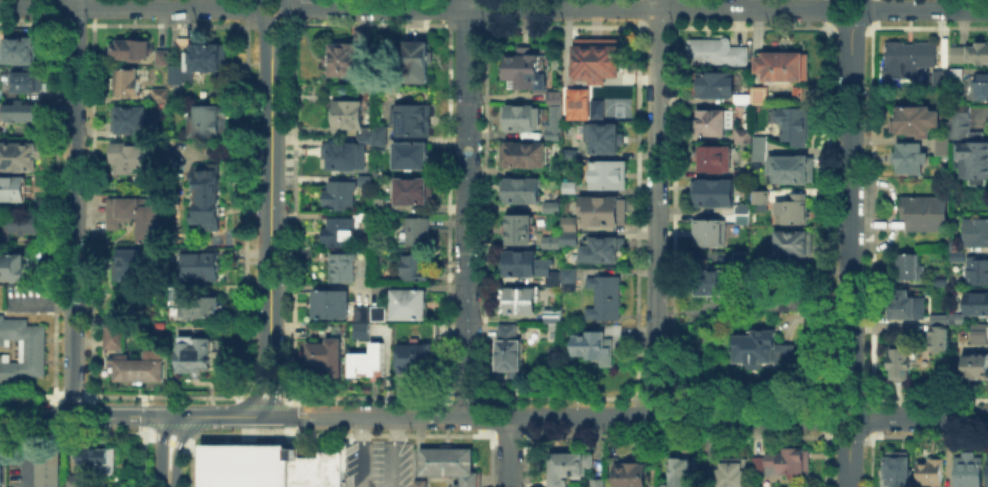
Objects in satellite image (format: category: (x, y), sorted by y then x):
road: (128, 3)
road: (559, 7)
road: (928, 8)
road: (833, 18)
road: (865, 18)
road: (271, 21)
building: (130, 48)
building: (20, 49)
building: (714, 50)
building: (970, 52)
building: (200, 53)
building: (346, 53)
building: (161, 55)
building: (595, 58)
building: (906, 58)
building: (415, 60)
building: (781, 64)
building: (526, 67)
building: (175, 72)
building: (955, 72)
building: (939, 75)
building: (26, 80)
building: (131, 80)
building: (711, 82)
building: (980, 85)
building: (158, 93)
building: (796, 93)
building: (758, 94)
building: (553, 95)
building: (741, 97)
building: (569, 102)
building: (20, 110)
building: (349, 114)
building: (519, 116)
building: (131, 119)
building: (410, 119)
building: (913, 119)
building: (713, 120)
building: (210, 121)
building: (552, 122)
building: (792, 122)
building: (741, 134)
building: (378, 136)
building: (602, 136)
building: (941, 138)
building: (758, 142)
building: (967, 144)
building: (344, 152)
building: (568, 152)
building: (410, 153)
building: (522, 153)
building: (19, 154)
building: (757, 154)
building: (909, 156)
building: (713, 157)
building: (130, 158)
building: (789, 167)
building: (740, 171)
building: (605, 173)
building: (364, 179)
building: (567, 185)
building: (12, 188)
building: (519, 188)
building: (412, 189)
building: (712, 191)
building: (339, 193)
building: (760, 197)
building: (206, 198)
building: (42, 203)
building: (377, 203)
building: (550, 205)
road: (73, 207)
building: (741, 207)
road: (465, 208)
road: (656, 208)
building: (602, 209)
building: (791, 209)
road: (894, 211)
building: (924, 211)
road: (852, 214)
building: (135, 215)
road: (267, 218)
building: (741, 218)
building: (567, 222)
building: (17, 224)
building: (518, 227)
building: (342, 229)
building: (416, 229)
building: (974, 230)
building: (708, 231)
building: (568, 236)
building: (550, 240)
building: (792, 241)
building: (600, 248)
building: (305, 251)
building: (955, 254)
building: (740, 256)
building: (204, 262)
building: (132, 263)
building: (527, 264)
building: (414, 265)
building: (908, 265)
building: (13, 266)
building: (343, 266)
building: (976, 270)
building: (567, 277)
building: (712, 279)
building: (940, 281)
building: (604, 296)
parking lot: (28, 297)
building: (784, 297)
building: (517, 299)
building: (975, 301)
road: (41, 302)
building: (409, 302)
building: (331, 303)
building: (904, 303)
building: (205, 308)
building: (361, 311)
building: (378, 312)
building: (552, 314)
building: (937, 317)
building: (955, 318)
building: (315, 327)
building: (361, 328)
building: (428, 328)
building: (978, 332)
building: (113, 334)
building: (937, 336)
building: (597, 341)
building: (759, 345)
building: (21, 349)
building: (508, 349)
building: (194, 350)
building: (327, 354)
building: (416, 358)
building: (368, 360)
building: (900, 361)
building: (975, 364)
building: (137, 366)
road: (37, 415)
road: (120, 415)
road: (215, 416)
road: (548, 417)
road: (927, 418)
road: (833, 419)
road: (866, 419)
road: (167, 436)
parking lot: (2, 451)
road: (26, 451)
road: (358, 452)
road: (393, 452)
road: (508, 452)
building: (92, 455)
building: (781, 460)
road: (850, 461)
parking lot: (19, 462)
parking lot: (376, 462)
building: (449, 463)
building: (567, 465)
building: (268, 466)
building: (48, 468)
building: (896, 468)
building: (967, 469)
building: (987, 469)
building: (929, 470)
road: (167, 472)
building: (677, 472)
building: (731, 472)
building: (630, 474)
building: (1, 475)
building: (72, 480)
building: (419, 482)
building: (595, 482)

